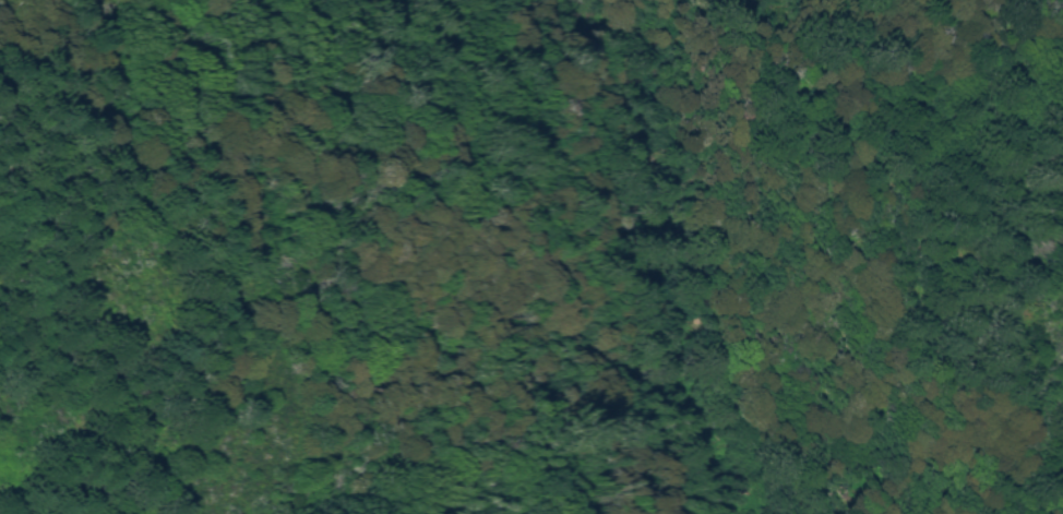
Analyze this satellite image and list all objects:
road: (2, 510)

